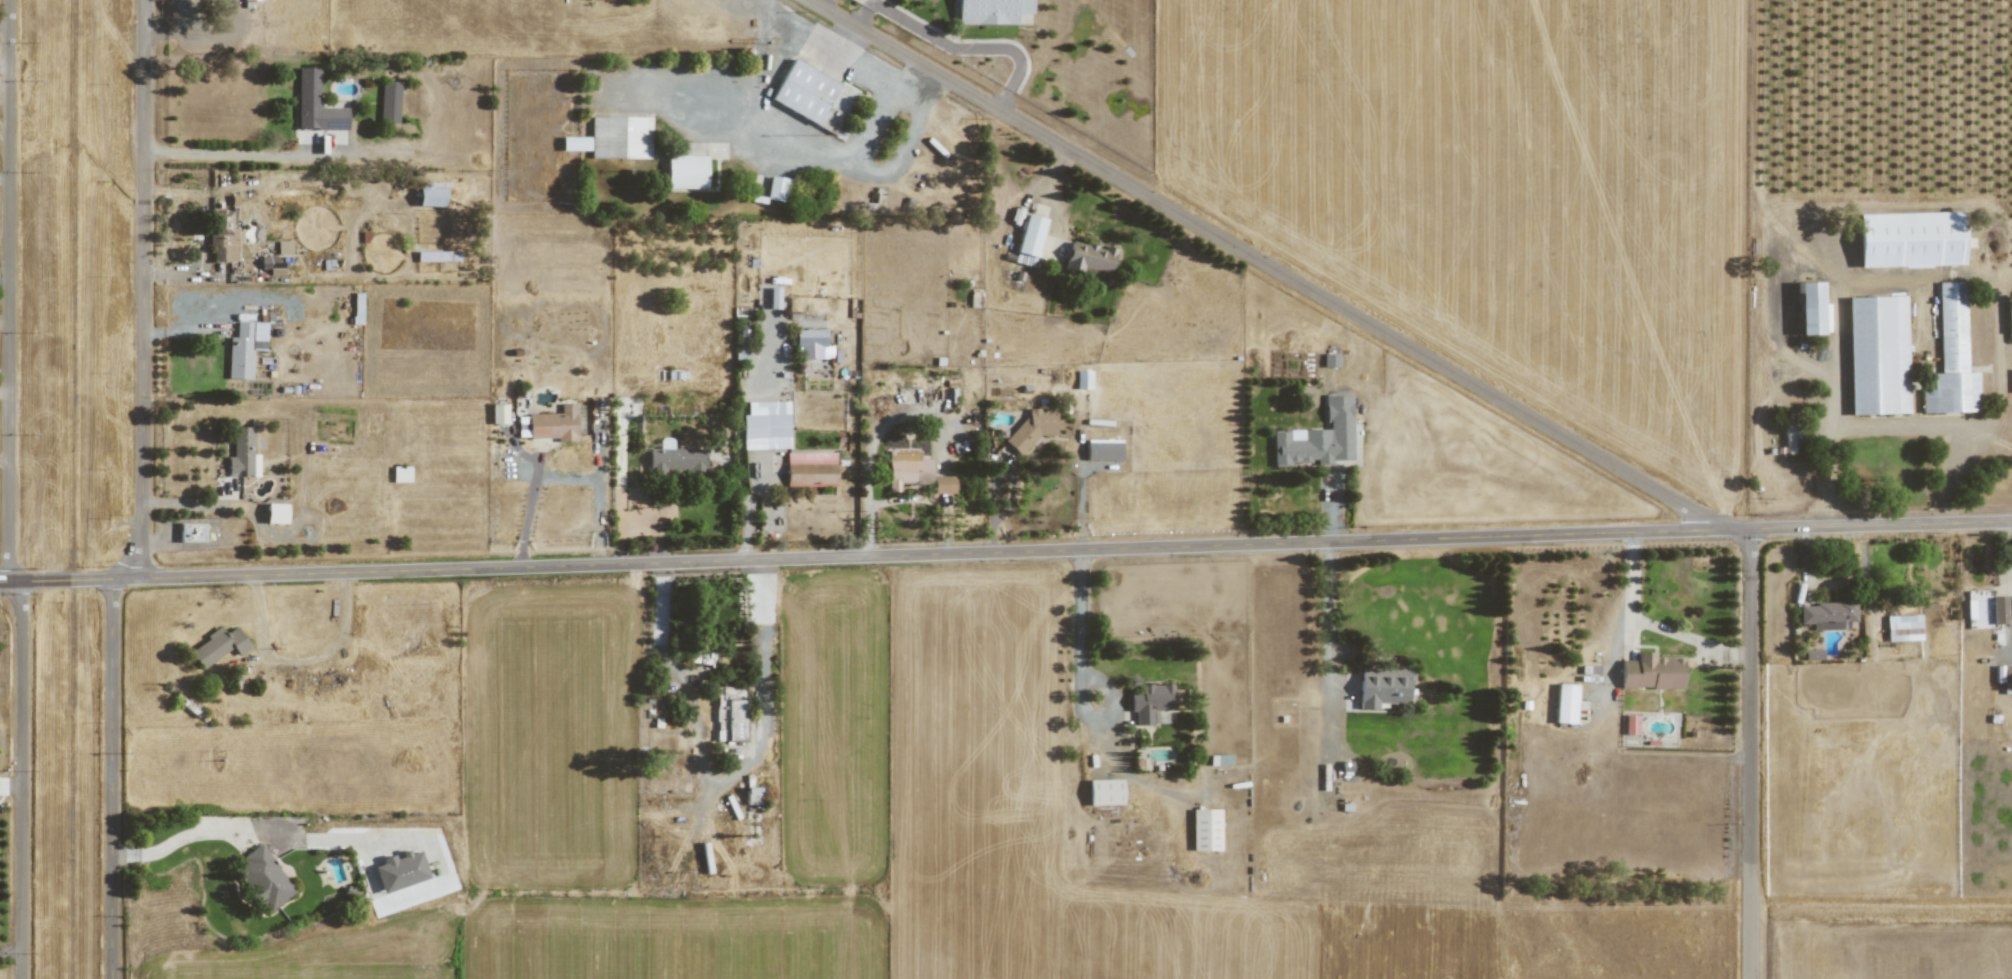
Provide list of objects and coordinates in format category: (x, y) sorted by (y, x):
building: (251, 0)
building: (590, 0)
road: (813, 1)
building: (990, 11)
road: (862, 17)
road: (967, 48)
building: (813, 96)
building: (389, 101)
building: (316, 104)
building: (620, 137)
building: (575, 143)
road: (240, 154)
building: (686, 171)
road: (5, 177)
building: (776, 188)
building: (431, 196)
building: (223, 236)
building: (1909, 239)
building: (1028, 240)
building: (283, 247)
building: (1089, 260)
road: (1267, 264)
road: (5, 283)
road: (144, 288)
road: (9, 290)
building: (774, 298)
building: (1808, 308)
building: (2009, 319)
building: (810, 343)
building: (244, 348)
building: (1877, 355)
building: (1951, 356)
building: (1330, 360)
building: (1083, 379)
building: (499, 413)
building: (553, 424)
building: (766, 425)
building: (1031, 429)
building: (1318, 437)
building: (1788, 440)
building: (1103, 450)
building: (242, 454)
building: (676, 461)
road: (740, 465)
building: (811, 469)
building: (908, 469)
building: (401, 474)
building: (943, 484)
road: (906, 499)
building: (276, 513)
road: (527, 514)
building: (192, 532)
road: (1005, 551)
building: (1999, 610)
building: (1827, 615)
building: (1903, 627)
road: (1327, 642)
building: (218, 646)
building: (1812, 654)
building: (702, 657)
building: (1651, 672)
building: (2003, 673)
building: (1383, 686)
building: (1150, 701)
building: (1565, 703)
road: (1096, 705)
building: (729, 713)
building: (1630, 724)
road: (1751, 754)
building: (1220, 760)
road: (112, 778)
road: (22, 779)
road: (720, 779)
building: (1105, 791)
building: (753, 795)
building: (1205, 829)
road: (165, 845)
building: (400, 871)
building: (263, 878)

